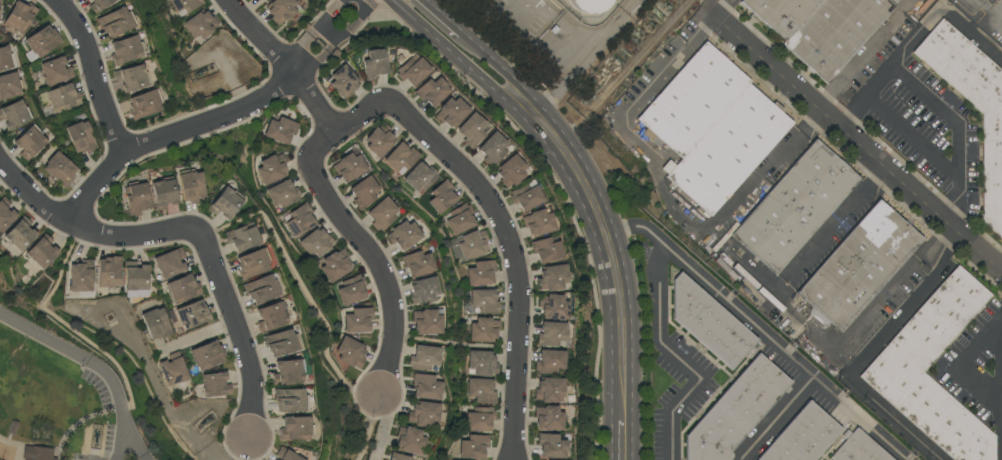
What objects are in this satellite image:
building: (89, 0)
building: (265, 0)
building: (99, 5)
building: (184, 5)
building: (589, 5)
storage tank: (589, 5)
road: (988, 8)
road: (723, 9)
building: (280, 10)
building: (781, 14)
building: (20, 16)
road: (430, 21)
building: (116, 22)
building: (200, 25)
building: (835, 33)
road: (308, 35)
road: (336, 41)
building: (41, 43)
building: (125, 50)
road: (865, 55)
road: (589, 57)
building: (5, 59)
building: (374, 64)
road: (282, 67)
building: (413, 70)
building: (56, 71)
road: (95, 72)
building: (132, 78)
building: (343, 82)
road: (874, 82)
building: (9, 86)
building: (432, 91)
building: (63, 98)
building: (692, 100)
building: (972, 103)
building: (144, 104)
building: (451, 112)
road: (943, 113)
building: (14, 114)
building: (281, 130)
building: (471, 130)
road: (168, 135)
road: (853, 136)
building: (81, 137)
building: (380, 141)
building: (30, 142)
building: (492, 149)
building: (728, 150)
building: (401, 157)
building: (349, 167)
building: (59, 169)
building: (272, 169)
building: (510, 171)
building: (420, 177)
building: (191, 186)
road: (666, 191)
building: (364, 192)
building: (0, 193)
building: (163, 193)
building: (283, 194)
building: (526, 196)
building: (442, 197)
building: (136, 198)
building: (225, 203)
road: (594, 206)
building: (795, 206)
building: (6, 213)
building: (382, 214)
building: (300, 220)
building: (460, 220)
building: (538, 223)
road: (504, 224)
road: (194, 229)
building: (20, 234)
building: (403, 235)
building: (242, 237)
building: (316, 243)
building: (472, 245)
building: (546, 250)
building: (42, 251)
road: (371, 253)
building: (169, 264)
building: (252, 264)
building: (417, 264)
building: (335, 265)
building: (858, 267)
building: (109, 272)
building: (481, 273)
building: (136, 276)
building: (82, 277)
building: (552, 278)
building: (183, 289)
building: (261, 289)
building: (352, 290)
building: (424, 291)
building: (484, 301)
building: (553, 307)
building: (193, 315)
building: (271, 317)
building: (358, 320)
road: (803, 320)
building: (426, 322)
building: (709, 323)
building: (156, 324)
building: (483, 330)
road: (760, 330)
building: (926, 333)
building: (551, 334)
building: (281, 343)
building: (350, 352)
road: (869, 354)
building: (207, 355)
building: (424, 358)
road: (679, 359)
building: (549, 362)
road: (963, 362)
building: (482, 364)
road: (93, 365)
building: (173, 370)
building: (287, 372)
building: (215, 385)
building: (426, 387)
building: (549, 390)
building: (481, 391)
park: (60, 401)
building: (290, 401)
building: (735, 411)
building: (423, 414)
building: (549, 418)
road: (777, 418)
parking lot: (112, 419)
building: (480, 419)
petroleum well: (205, 421)
road: (384, 425)
building: (295, 429)
petroleum well: (96, 434)
building: (802, 436)
building: (409, 441)
road: (622, 441)
building: (551, 446)
building: (474, 447)
building: (858, 448)
building: (37, 453)
building: (286, 455)
building: (398, 457)

